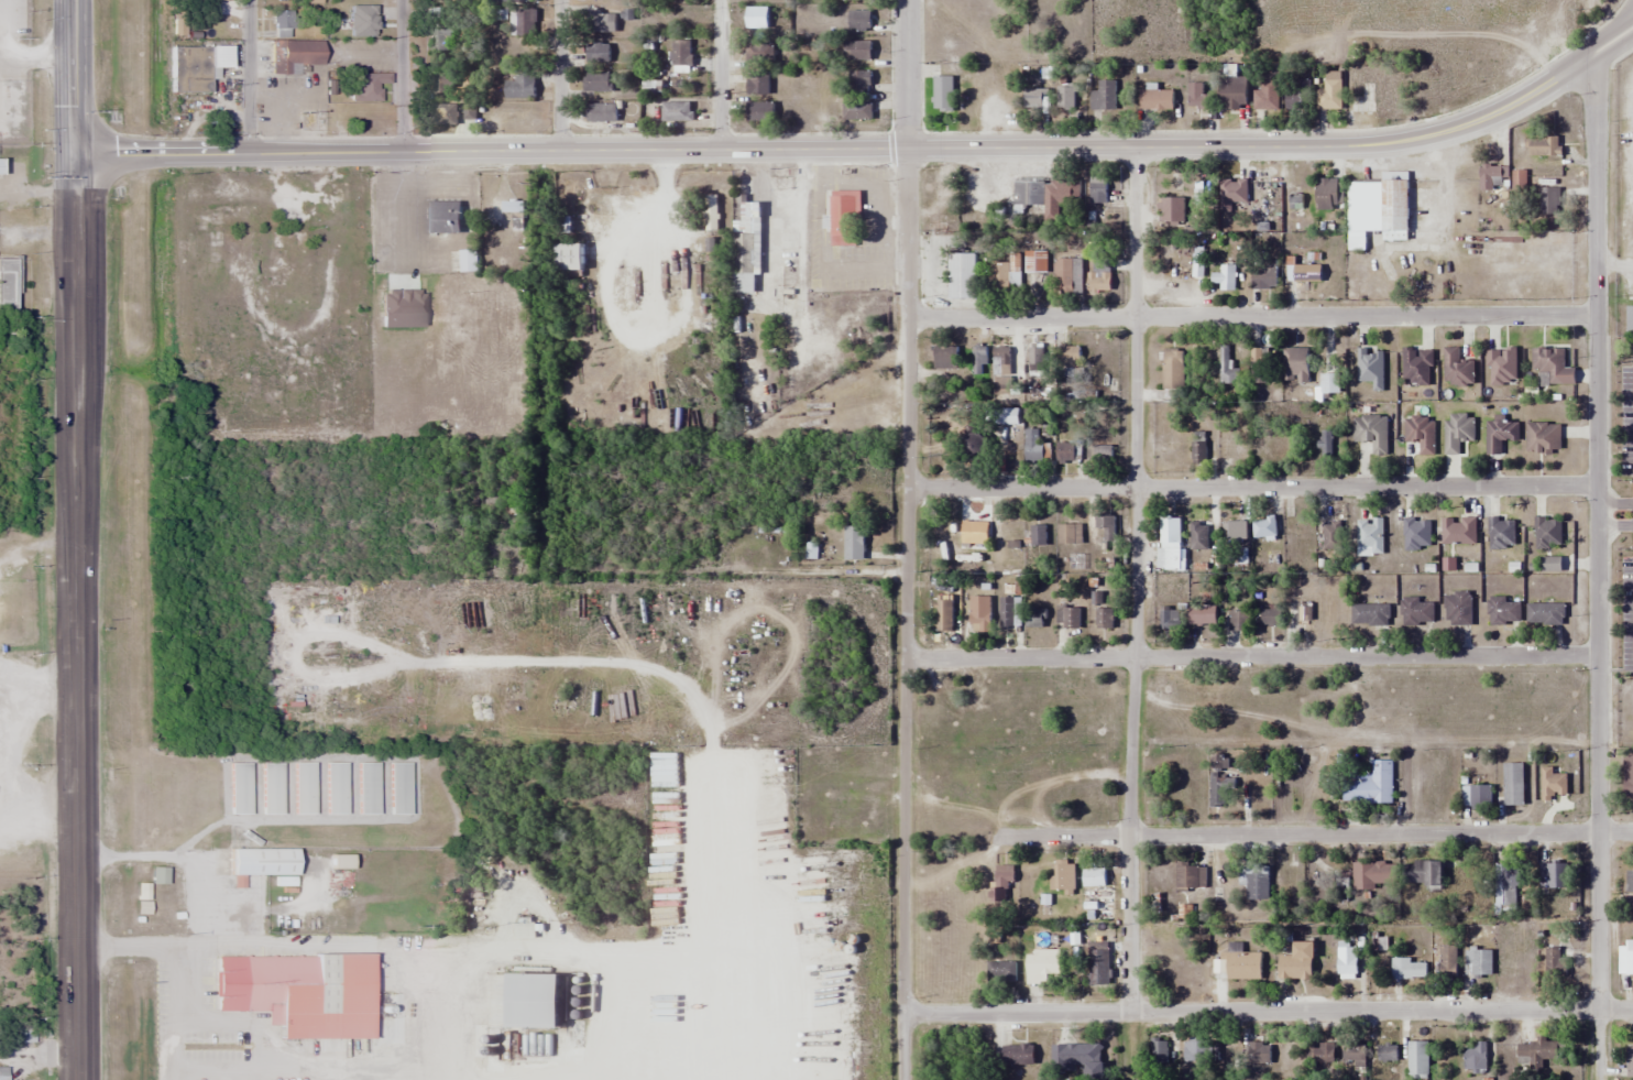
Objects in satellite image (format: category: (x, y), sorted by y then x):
building: (516, 1)
building: (858, 19)
building: (283, 20)
building: (371, 21)
building: (596, 21)
building: (523, 22)
road: (1629, 22)
building: (441, 35)
building: (681, 51)
building: (857, 51)
building: (598, 52)
building: (294, 53)
building: (196, 65)
road: (559, 74)
road: (719, 74)
road: (248, 75)
road: (404, 75)
building: (857, 80)
building: (596, 81)
building: (757, 81)
building: (366, 86)
building: (519, 86)
building: (1234, 91)
building: (942, 92)
building: (1297, 94)
building: (1329, 94)
building: (1065, 95)
building: (1197, 95)
building: (1267, 95)
building: (1104, 96)
building: (1032, 98)
building: (1157, 99)
building: (857, 109)
building: (600, 111)
building: (760, 111)
building: (677, 112)
building: (441, 113)
building: (1544, 145)
road: (867, 146)
traffic signals: (73, 152)
building: (0, 165)
building: (1491, 176)
building: (1517, 181)
building: (1097, 190)
building: (1328, 193)
building: (1045, 194)
building: (1232, 194)
building: (1203, 199)
building: (1548, 200)
building: (512, 206)
building: (1378, 208)
building: (263, 210)
building: (1171, 211)
building: (711, 212)
building: (443, 216)
building: (843, 217)
building: (745, 242)
building: (569, 257)
building: (468, 260)
building: (1035, 262)
building: (1306, 272)
building: (1227, 273)
building: (1005, 274)
building: (1263, 274)
building: (963, 275)
building: (1067, 276)
building: (1098, 282)
building: (8, 284)
road: (1250, 316)
building: (1629, 318)
building: (945, 357)
building: (1000, 358)
building: (1035, 358)
building: (978, 359)
building: (1068, 361)
building: (1549, 362)
building: (1260, 364)
building: (1295, 364)
building: (1416, 366)
building: (1227, 367)
building: (1501, 367)
building: (1370, 368)
building: (1456, 368)
building: (1173, 369)
building: (1328, 382)
road: (1133, 401)
building: (1371, 432)
building: (1499, 434)
building: (1543, 438)
building: (1034, 444)
building: (1326, 444)
building: (974, 446)
building: (1198, 447)
building: (1066, 452)
building: (1099, 452)
road: (1250, 486)
road: (906, 506)
building: (1106, 524)
building: (1263, 526)
building: (1236, 528)
building: (1297, 528)
building: (1458, 531)
building: (975, 533)
building: (1070, 533)
building: (1501, 533)
building: (1547, 533)
building: (1416, 534)
building: (1038, 535)
building: (1198, 535)
building: (1331, 535)
building: (1369, 536)
road: (74, 539)
railway: (142, 539)
building: (1169, 542)
building: (854, 543)
road: (1596, 565)
building: (1458, 609)
building: (1416, 611)
building: (1503, 611)
building: (1008, 612)
building: (1304, 612)
building: (979, 613)
building: (1545, 613)
building: (1203, 614)
building: (1369, 614)
building: (1068, 617)
building: (1035, 618)
building: (1169, 618)
building: (1271, 618)
building: (1104, 619)
road: (1251, 654)
building: (1627, 778)
building: (1369, 784)
building: (1513, 784)
building: (1218, 786)
building: (303, 787)
building: (368, 787)
building: (240, 788)
building: (272, 788)
building: (336, 788)
building: (399, 788)
building: (1476, 797)
road: (1131, 834)
road: (1317, 834)
building: (261, 861)
building: (1421, 873)
building: (160, 874)
building: (1368, 875)
building: (1555, 875)
building: (1063, 877)
building: (1094, 877)
building: (1191, 877)
building: (1002, 882)
building: (1629, 882)
building: (1257, 883)
building: (1505, 887)
road: (204, 901)
road: (458, 949)
building: (1629, 958)
building: (1296, 962)
building: (1347, 962)
building: (1481, 962)
building: (1241, 963)
building: (1554, 964)
building: (1098, 966)
building: (1447, 966)
building: (1042, 967)
building: (1409, 969)
building: (1001, 972)
building: (299, 992)
building: (534, 1001)
road: (176, 1011)
road: (1269, 1012)
building: (23, 1032)
road: (905, 1047)
building: (1159, 1050)
building: (1197, 1051)
building: (1388, 1051)
building: (1258, 1052)
building: (1324, 1052)
building: (1537, 1052)
building: (1017, 1054)
building: (1076, 1056)
building: (1355, 1056)
building: (1473, 1057)
building: (1417, 1058)
building: (1630, 1060)

